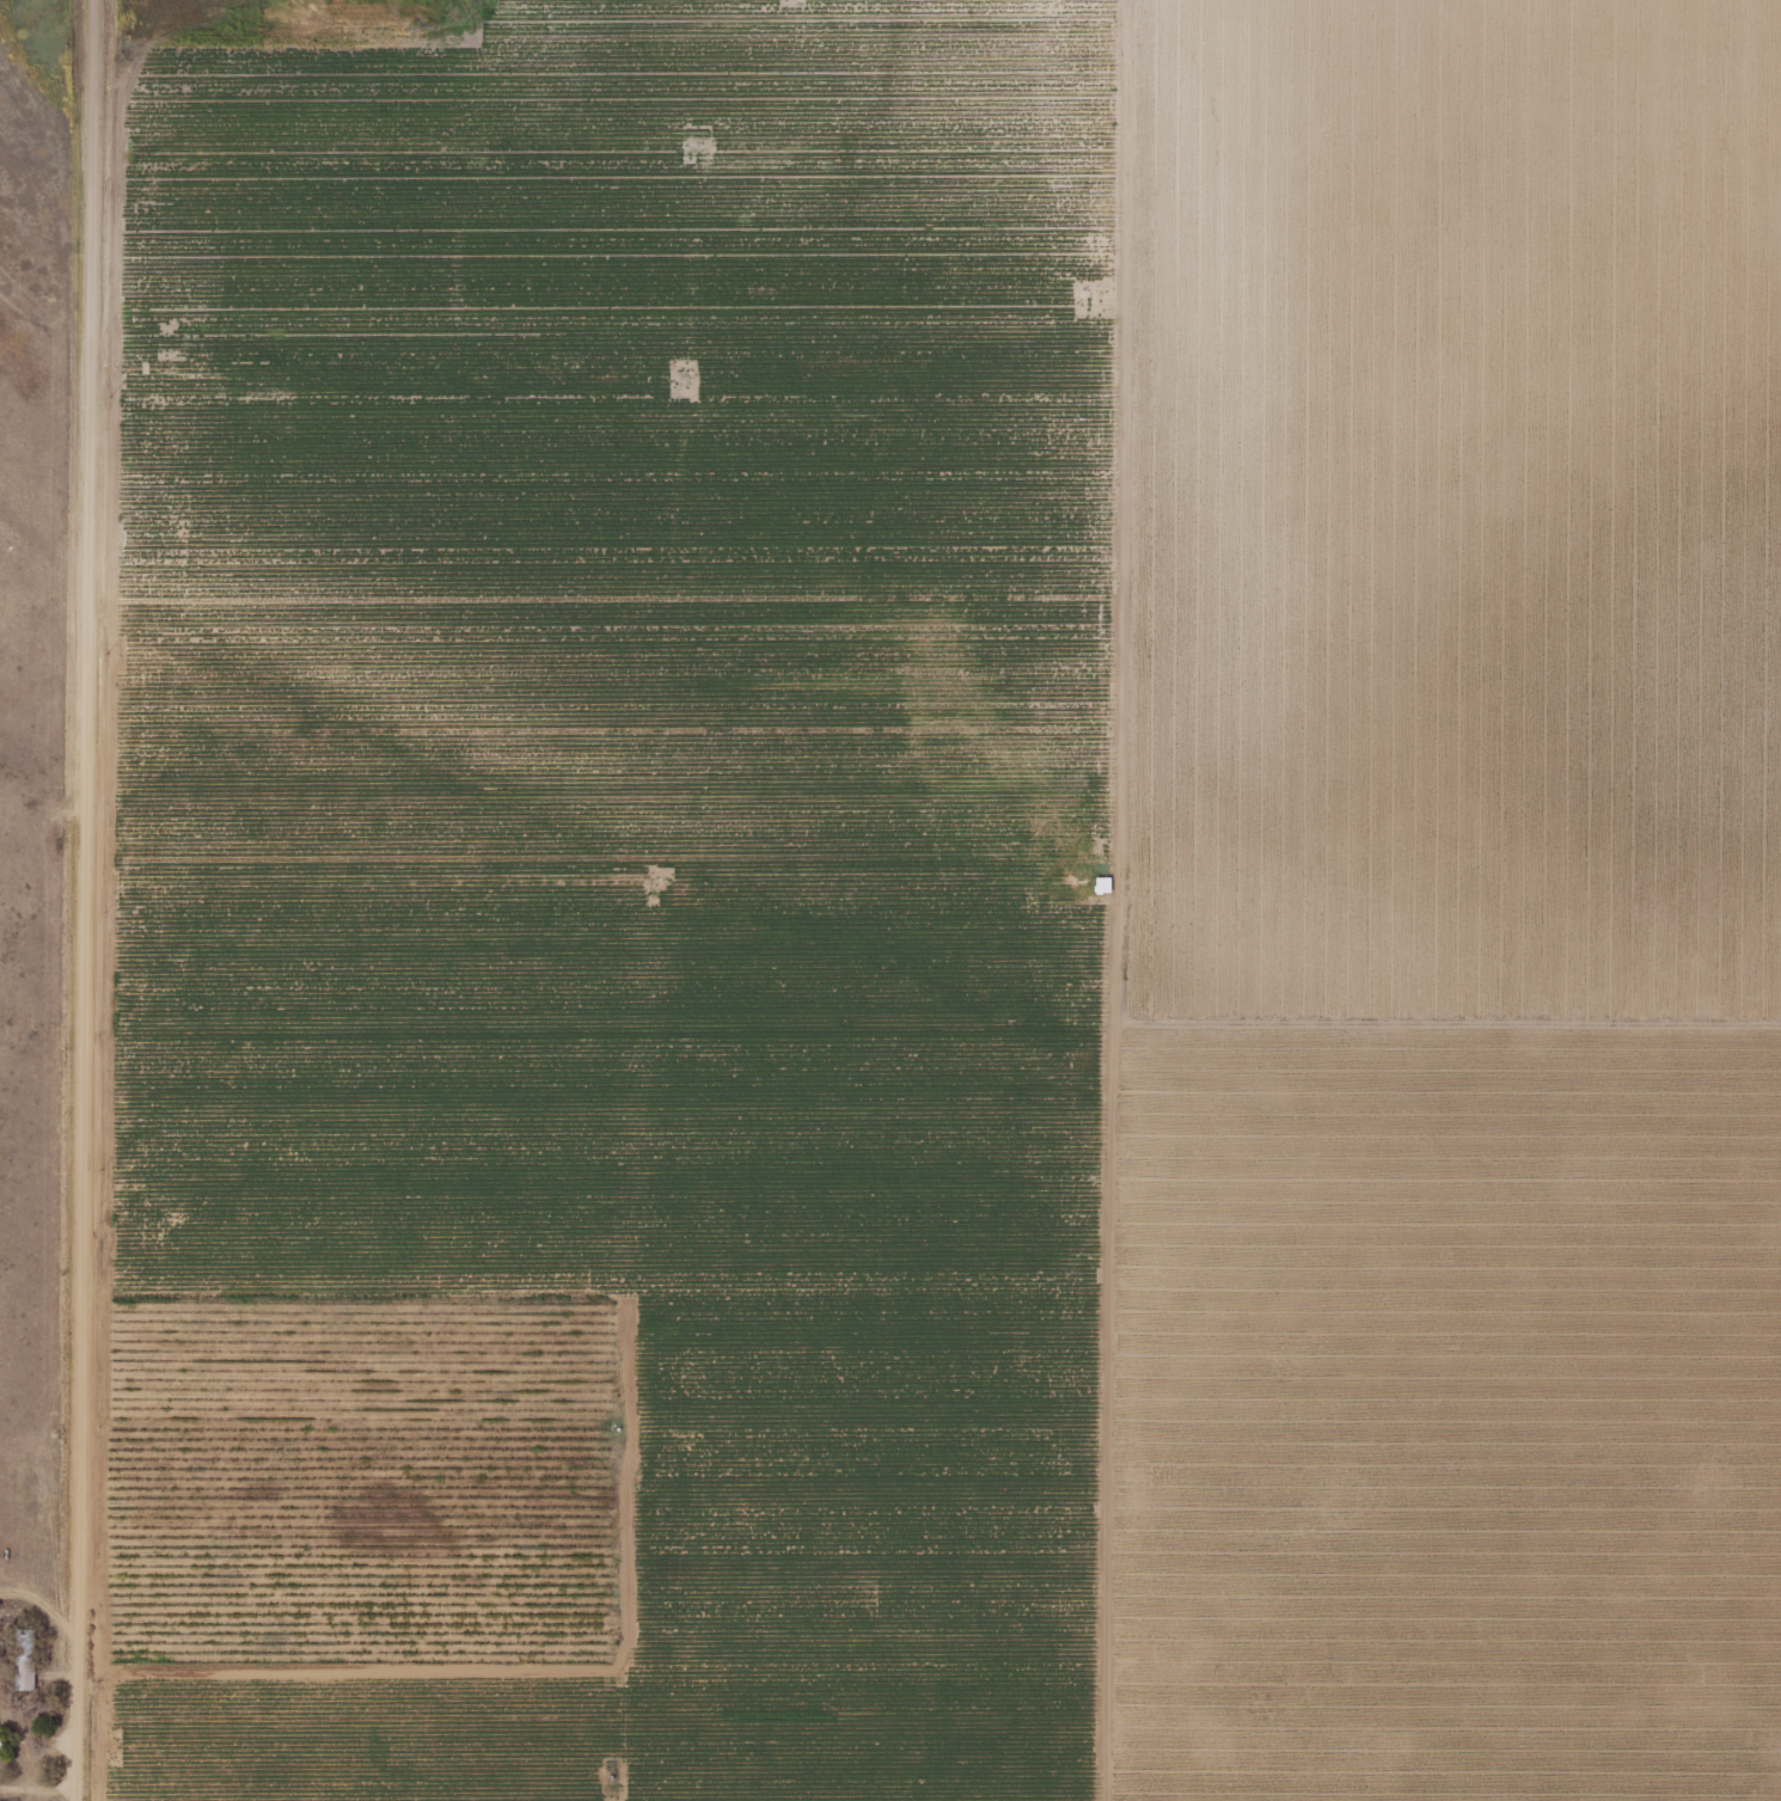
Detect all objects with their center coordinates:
road: (87, 900)

